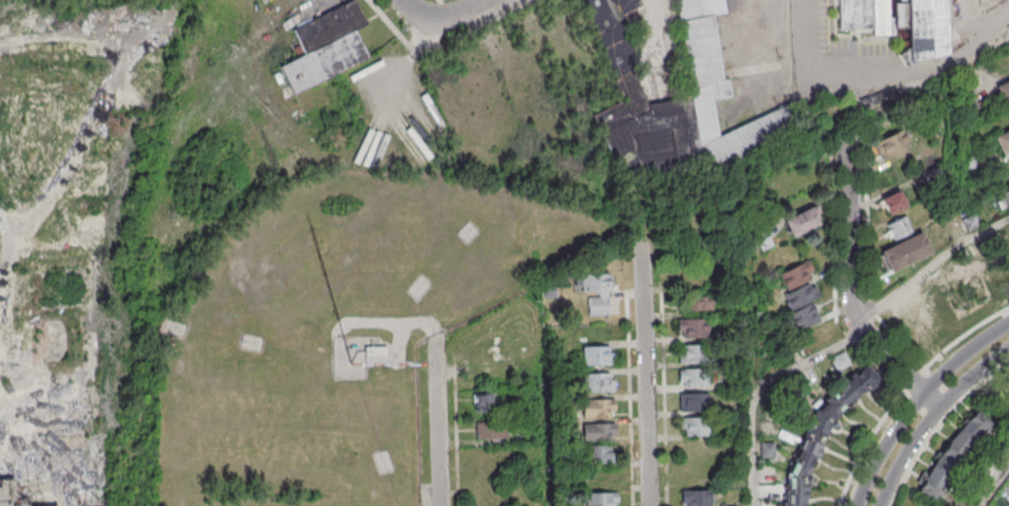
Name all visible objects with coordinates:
road: (441, 18)
building: (900, 22)
building: (326, 47)
road: (881, 73)
building: (710, 88)
building: (1003, 90)
building: (878, 97)
building: (1002, 141)
building: (891, 146)
building: (1004, 197)
building: (894, 202)
building: (804, 221)
building: (899, 227)
building: (906, 251)
road: (931, 268)
building: (596, 292)
road: (856, 292)
building: (800, 295)
building: (697, 301)
building: (929, 301)
building: (692, 328)
building: (692, 353)
building: (598, 355)
building: (489, 357)
road: (646, 370)
building: (693, 377)
building: (598, 382)
road: (760, 389)
building: (484, 401)
road: (917, 401)
building: (692, 402)
building: (598, 408)
road: (931, 417)
road: (545, 419)
road: (440, 425)
building: (696, 426)
building: (491, 430)
building: (599, 432)
building: (823, 432)
building: (598, 454)
building: (953, 455)
road: (994, 486)
road: (847, 489)
building: (5, 491)
building: (696, 497)
building: (602, 499)
building: (17, 502)
building: (93, 502)

